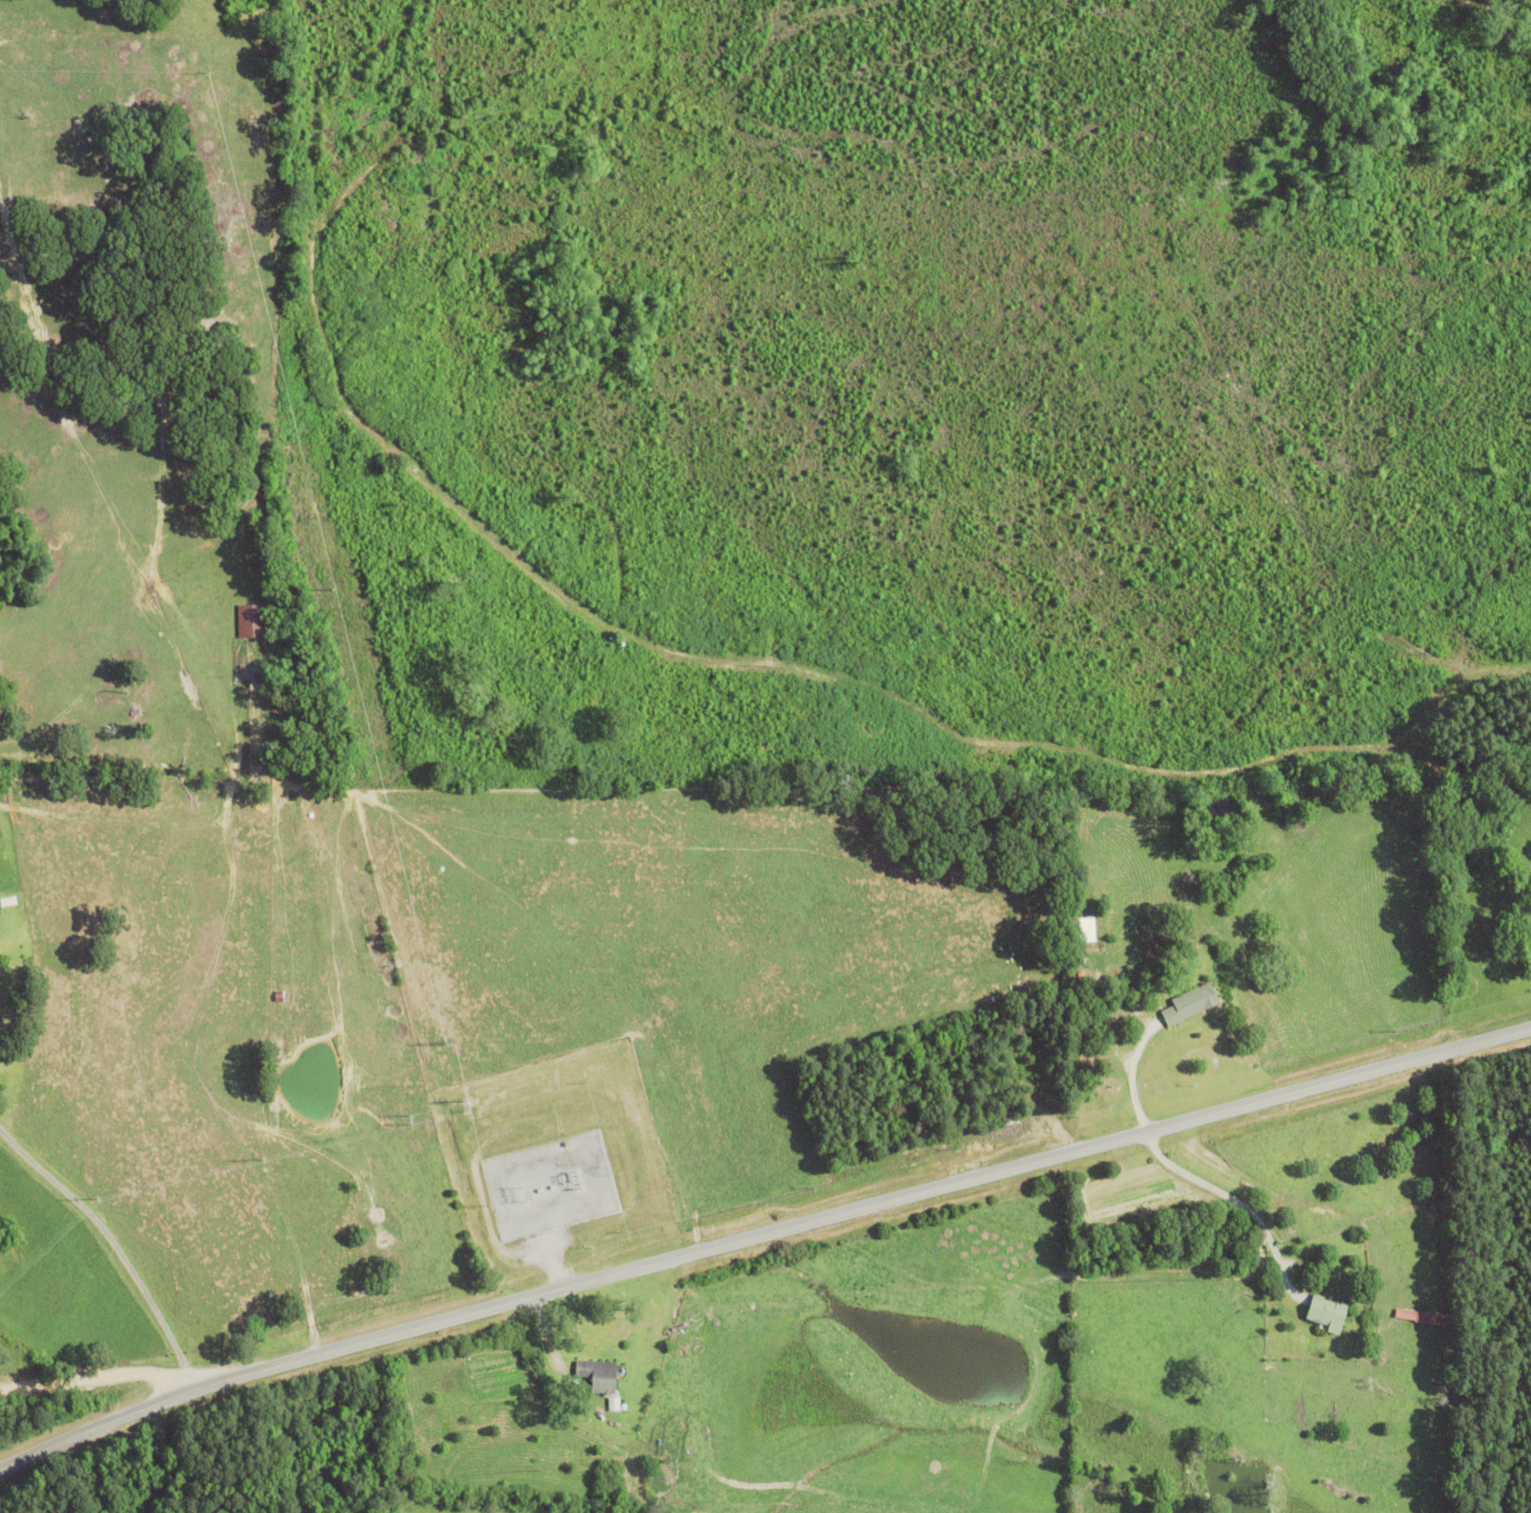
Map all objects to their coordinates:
building: (250, 621)
building: (1080, 929)
building: (279, 996)
building: (1188, 1002)
building: (1007, 1112)
power substation: (553, 1182)
road: (760, 1232)
road: (114, 1245)
building: (1324, 1311)
building: (1427, 1317)
building: (597, 1374)
road: (99, 1376)

